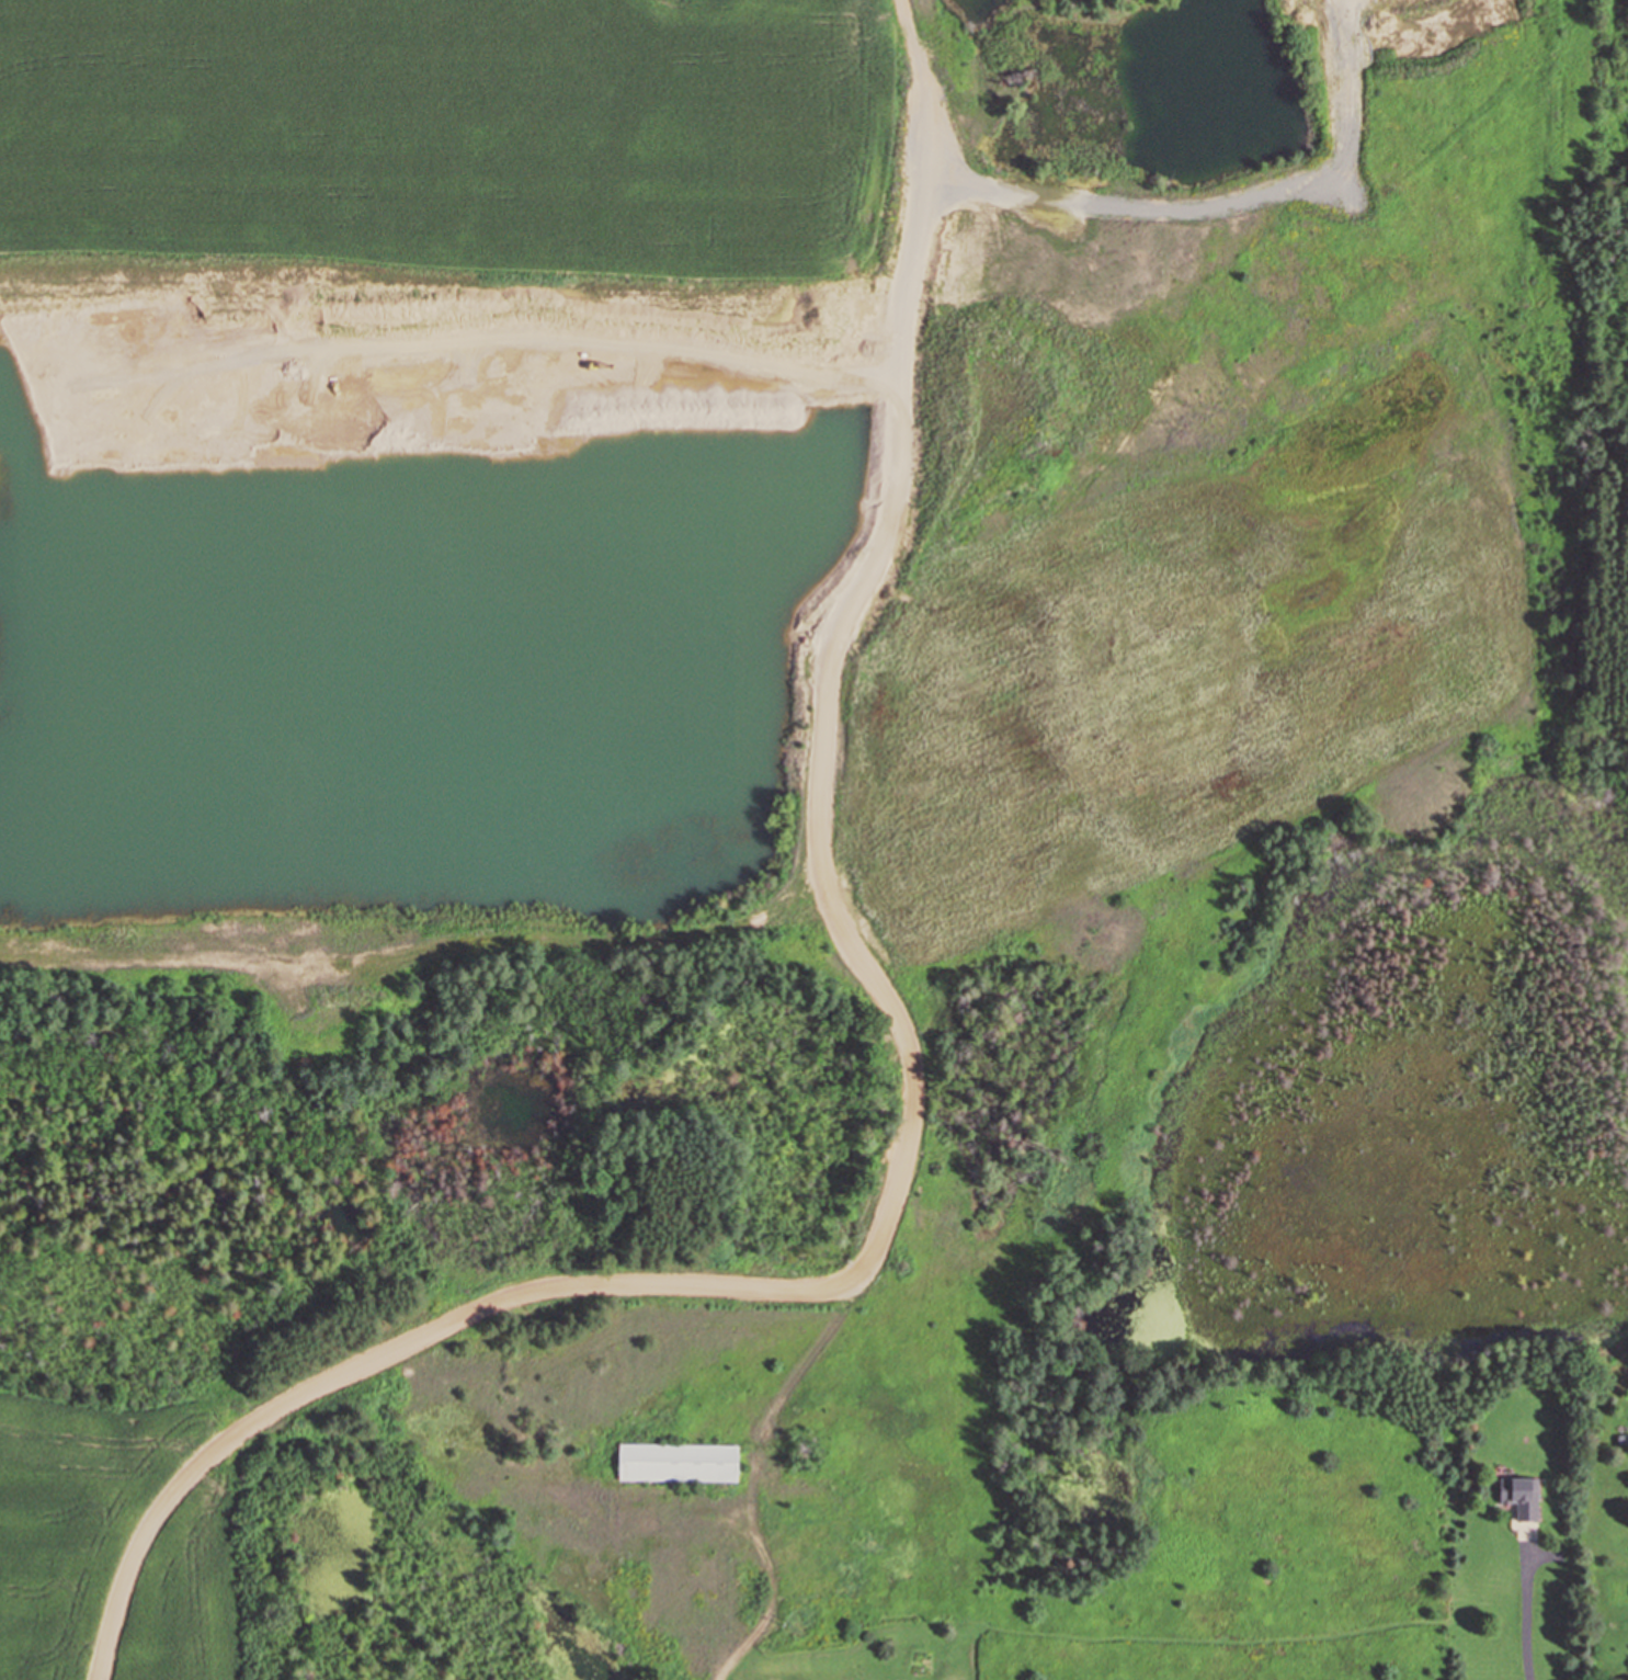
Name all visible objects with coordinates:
quarry: (743, 745)
building: (676, 1462)
building: (1521, 1497)

